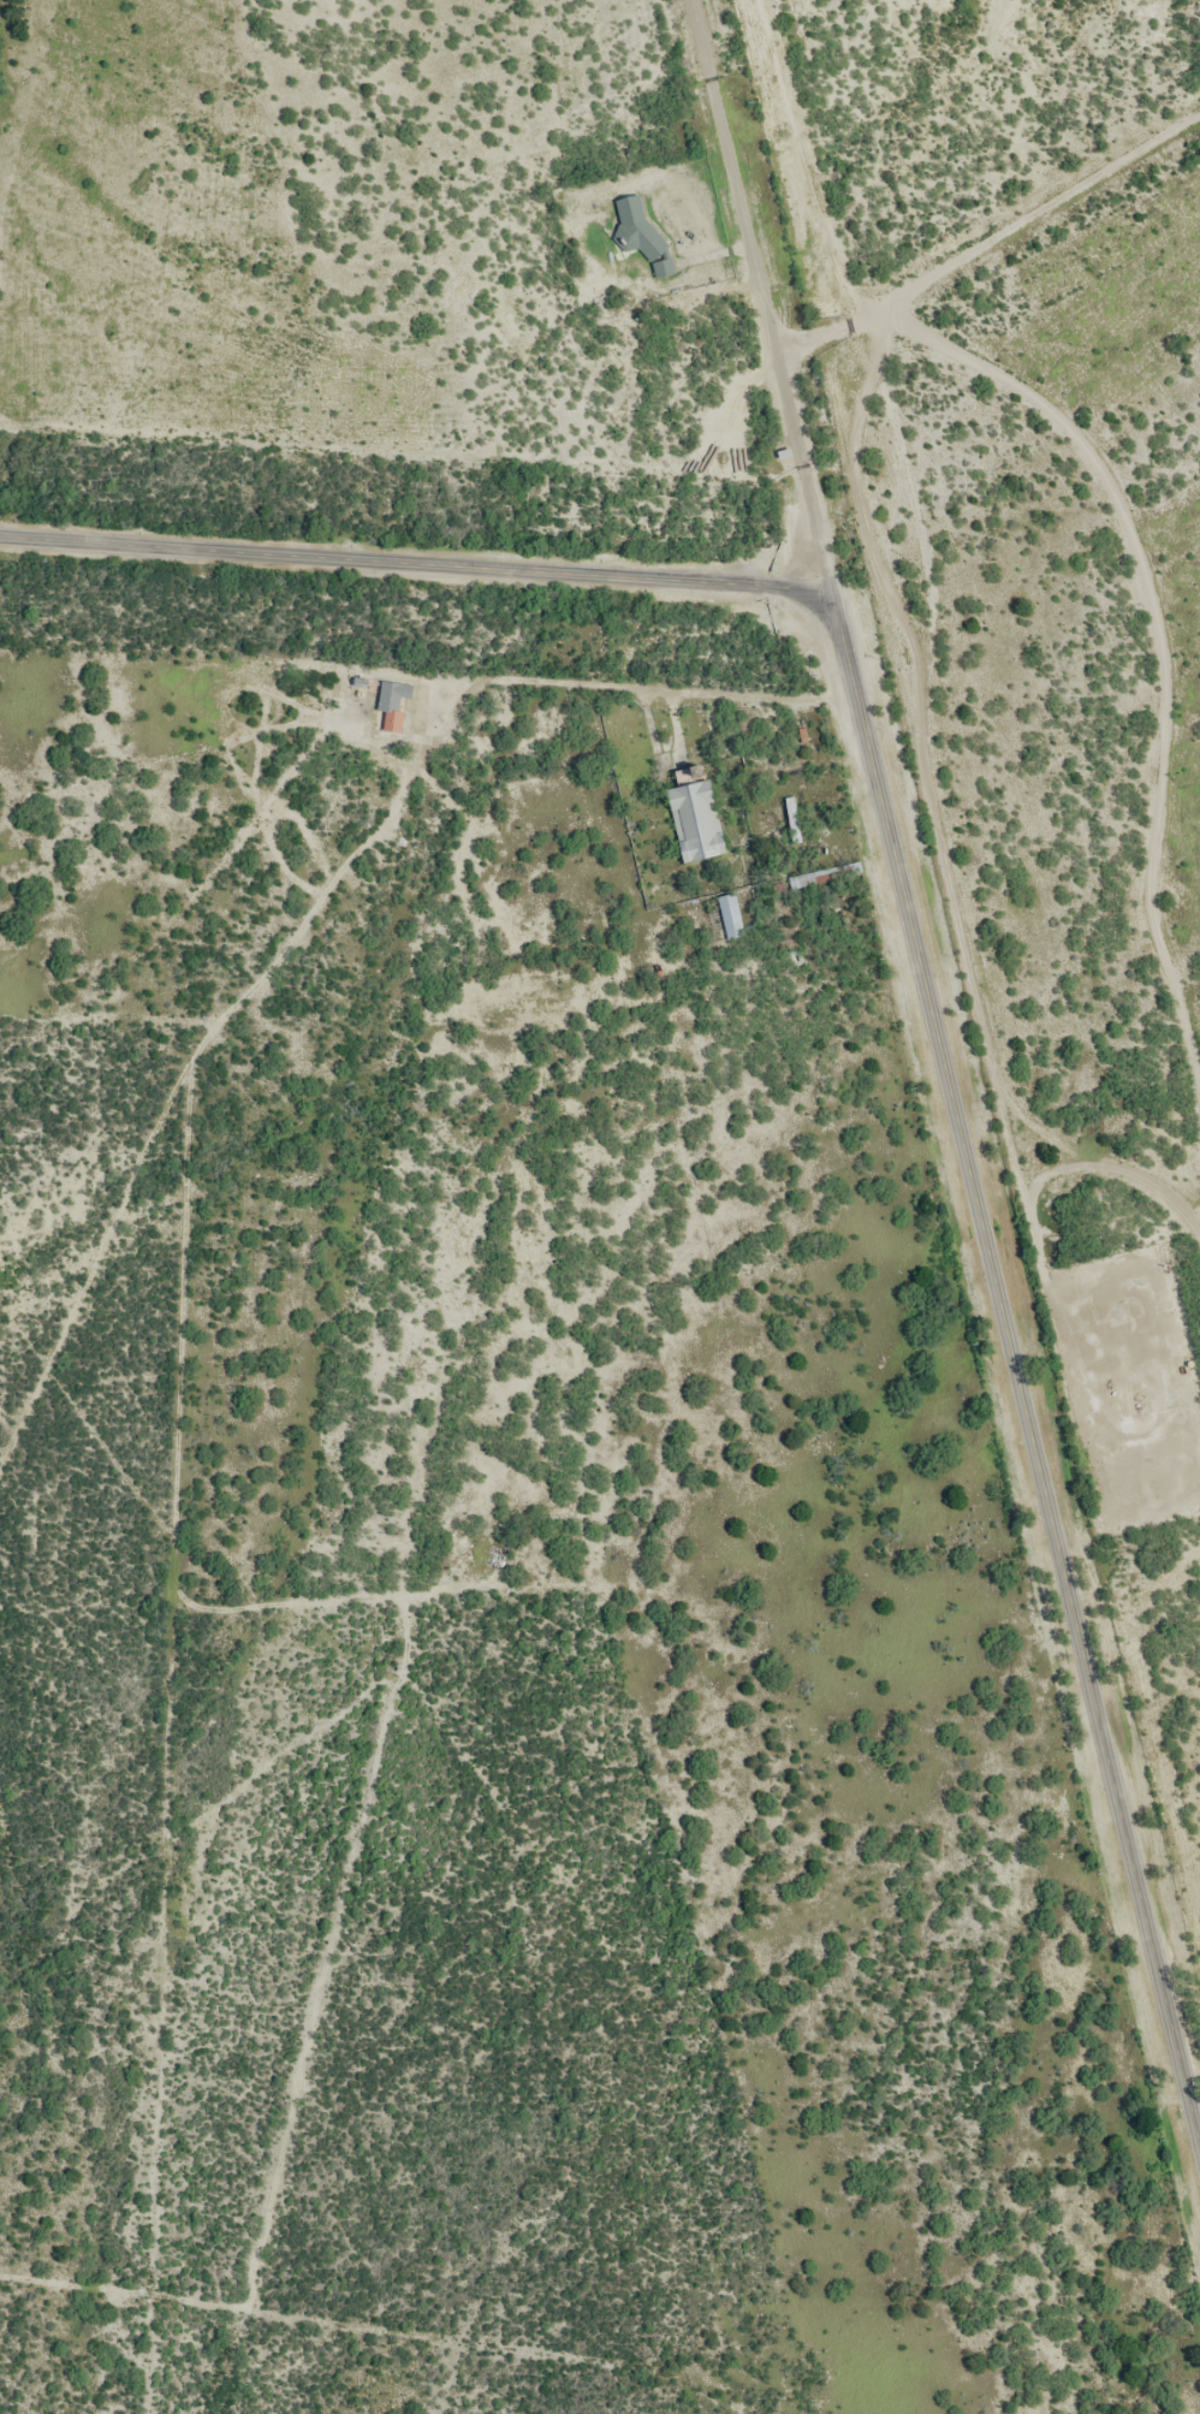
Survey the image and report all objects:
building: (641, 229)
road: (764, 299)
road: (417, 565)
road: (623, 672)
building: (397, 708)
road: (1016, 1375)

